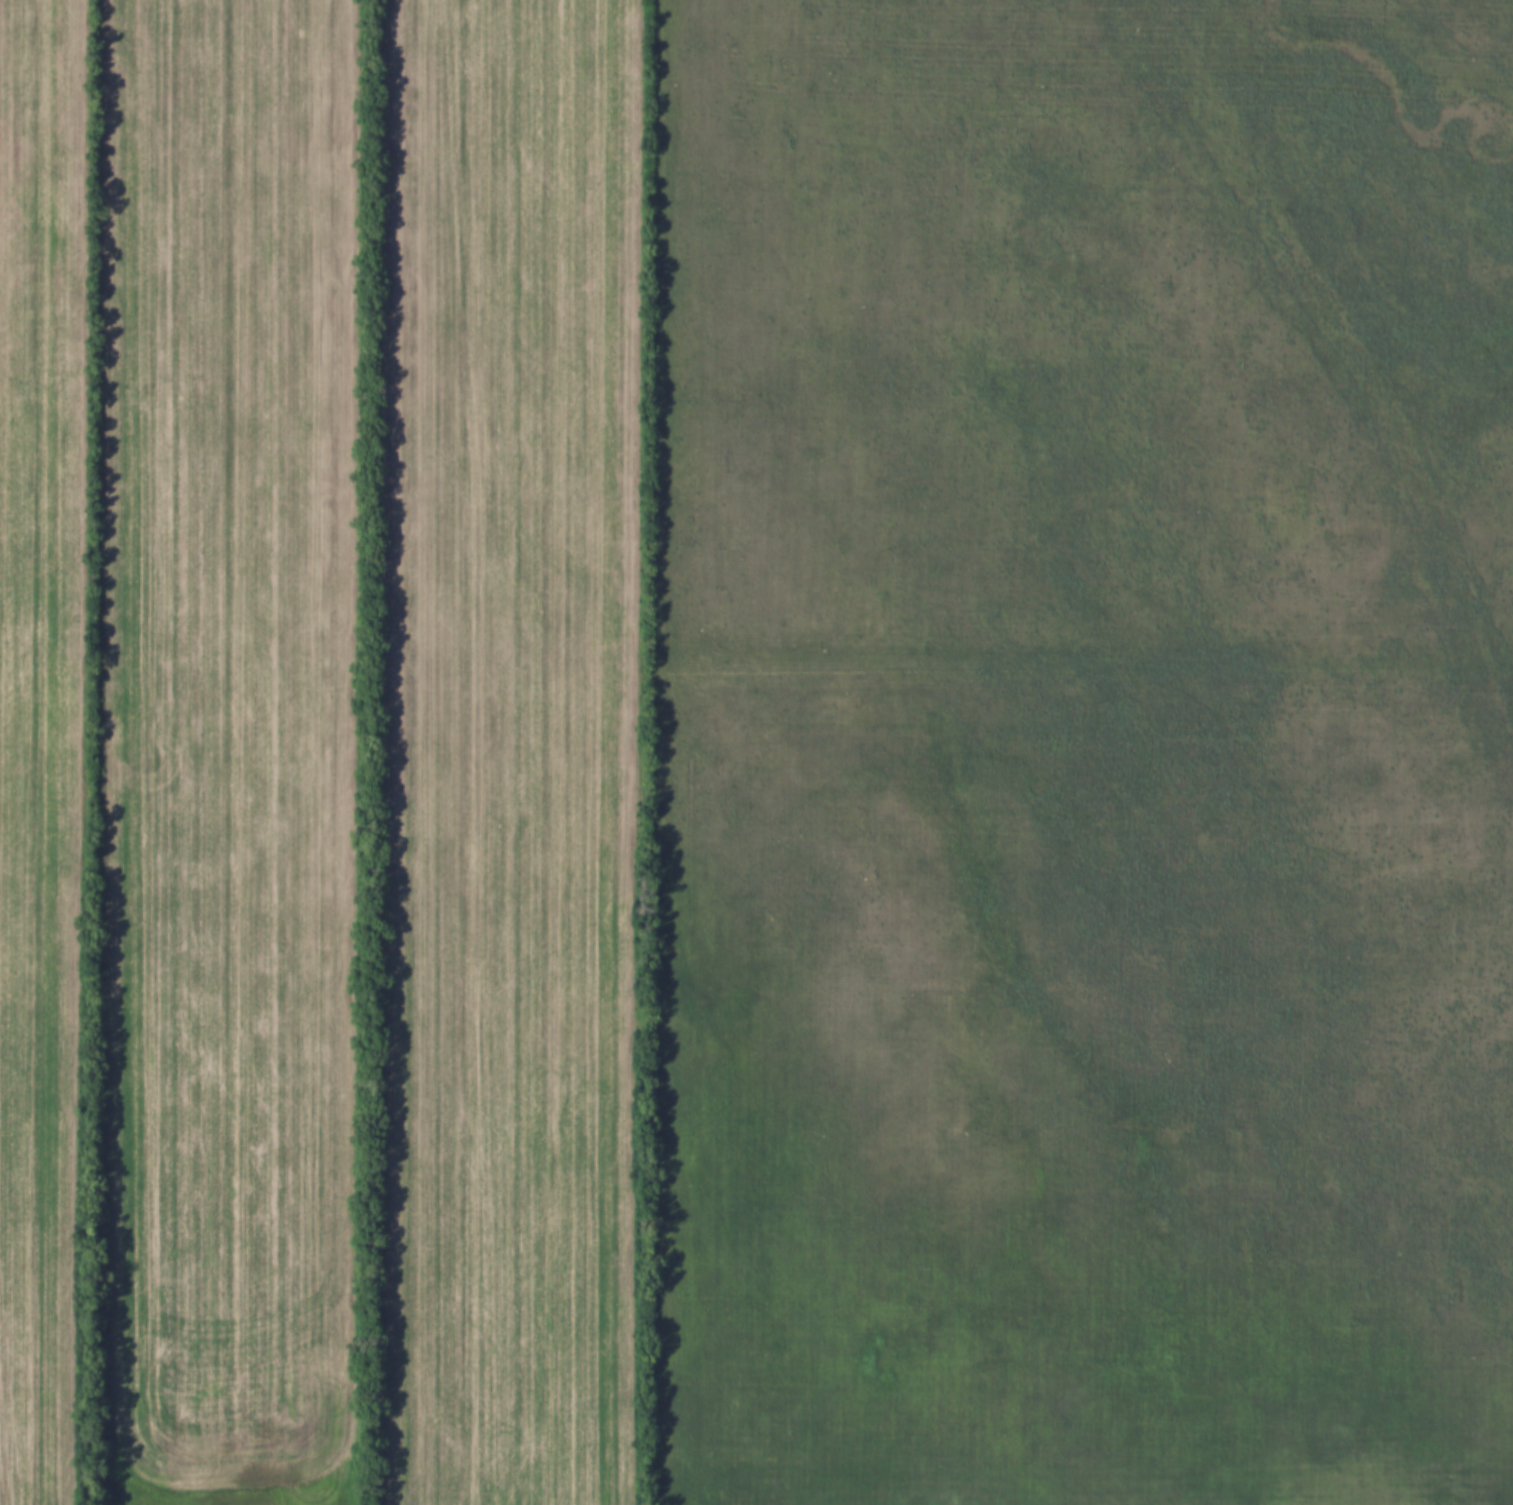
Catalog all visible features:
road: (665, 752)

